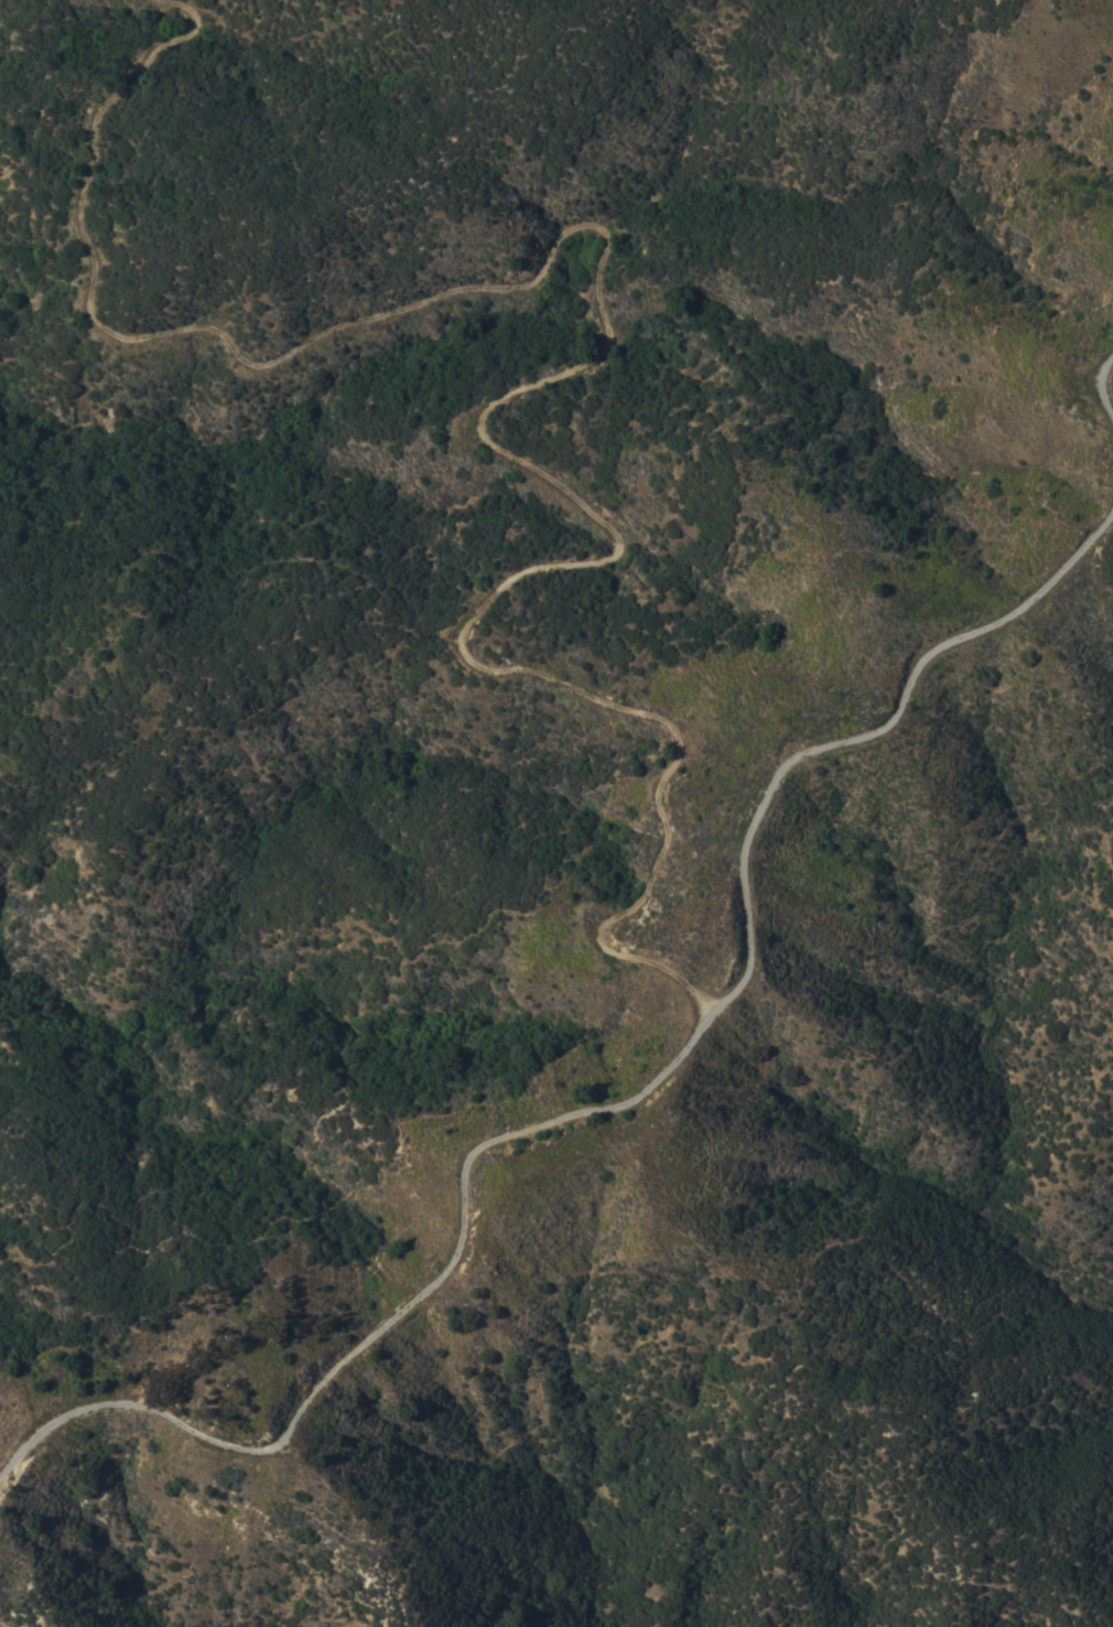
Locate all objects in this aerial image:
road: (579, 368)
road: (1101, 380)
road: (617, 1105)

